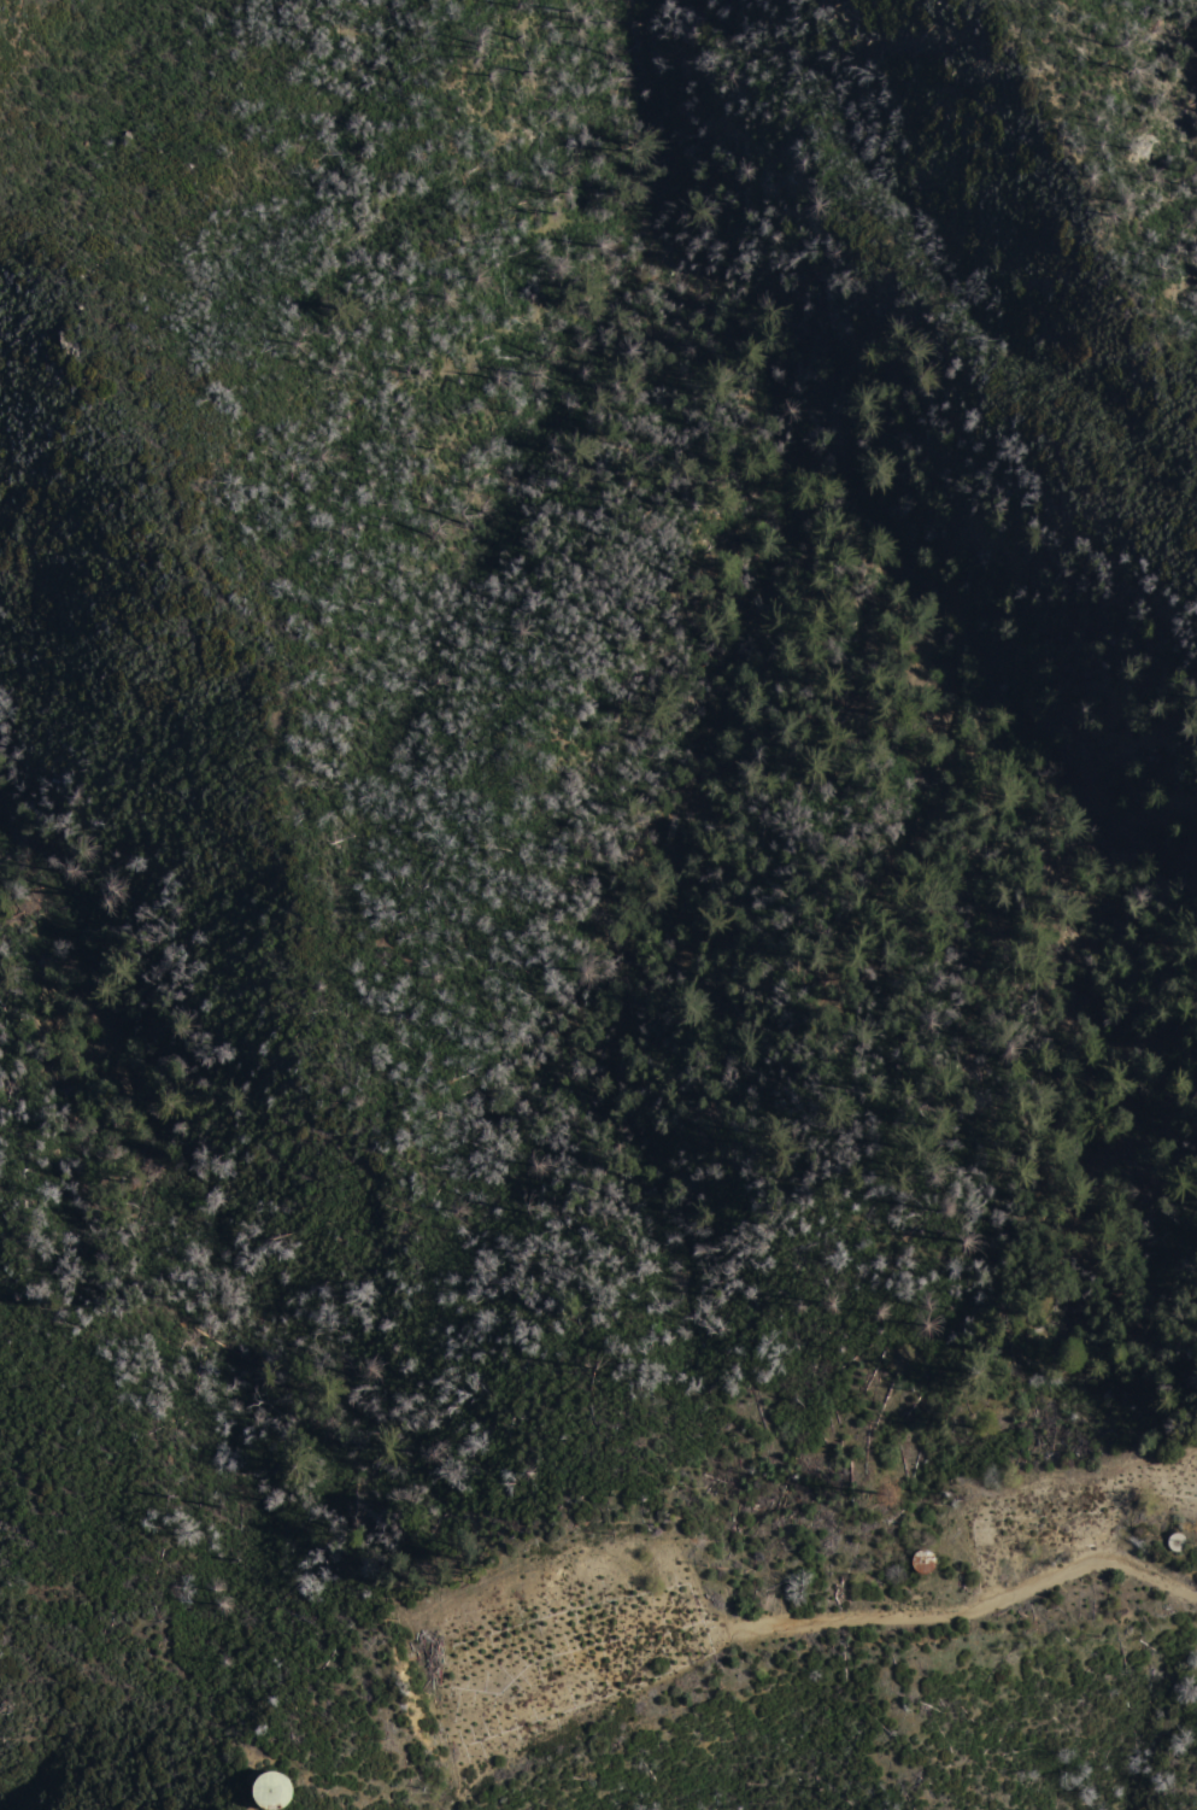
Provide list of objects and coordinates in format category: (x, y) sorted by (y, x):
building: (1170, 1540)
storage tank: (1170, 1540)
building: (923, 1559)
storage tank: (923, 1559)
road: (975, 1613)
road: (588, 1724)
building: (272, 1790)
storage tank: (272, 1790)

